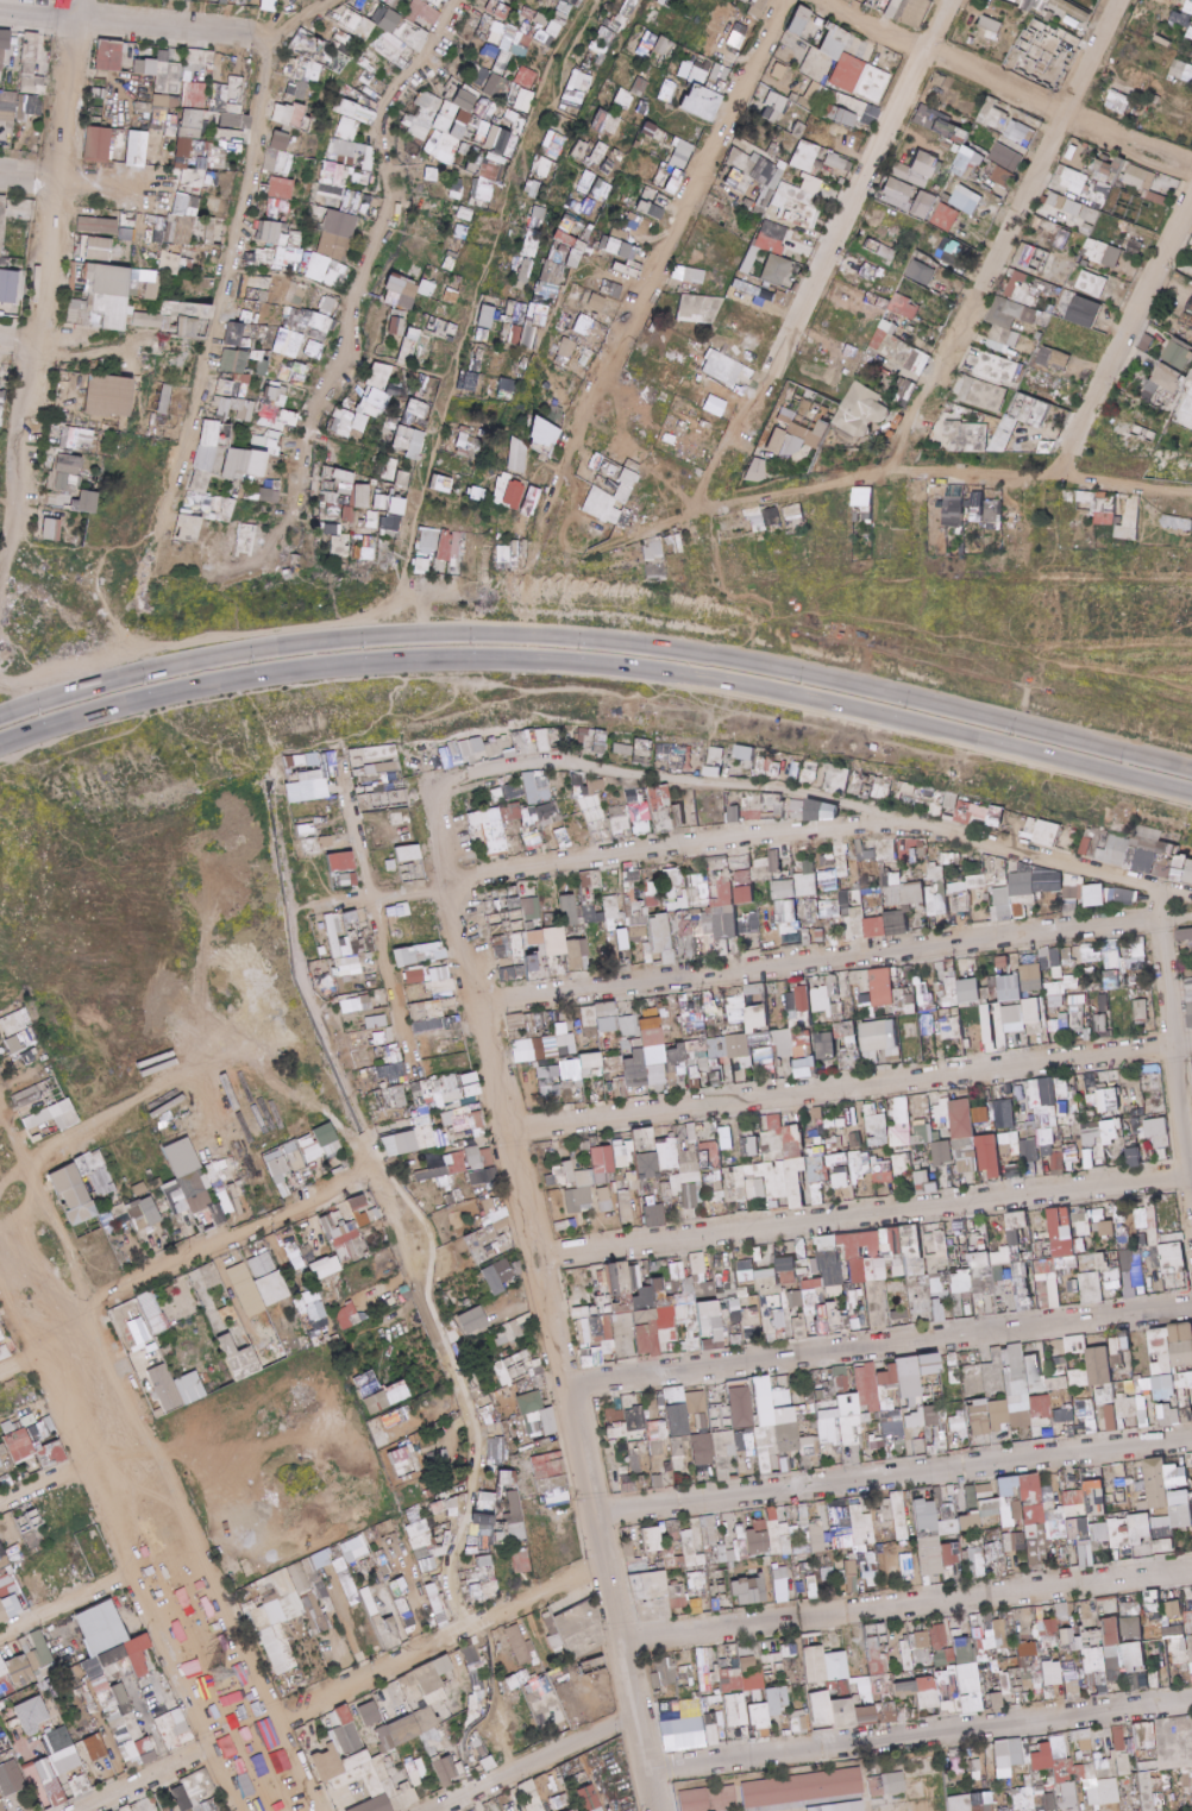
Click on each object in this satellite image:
road: (39, 271)
power tower: (224, 1666)

